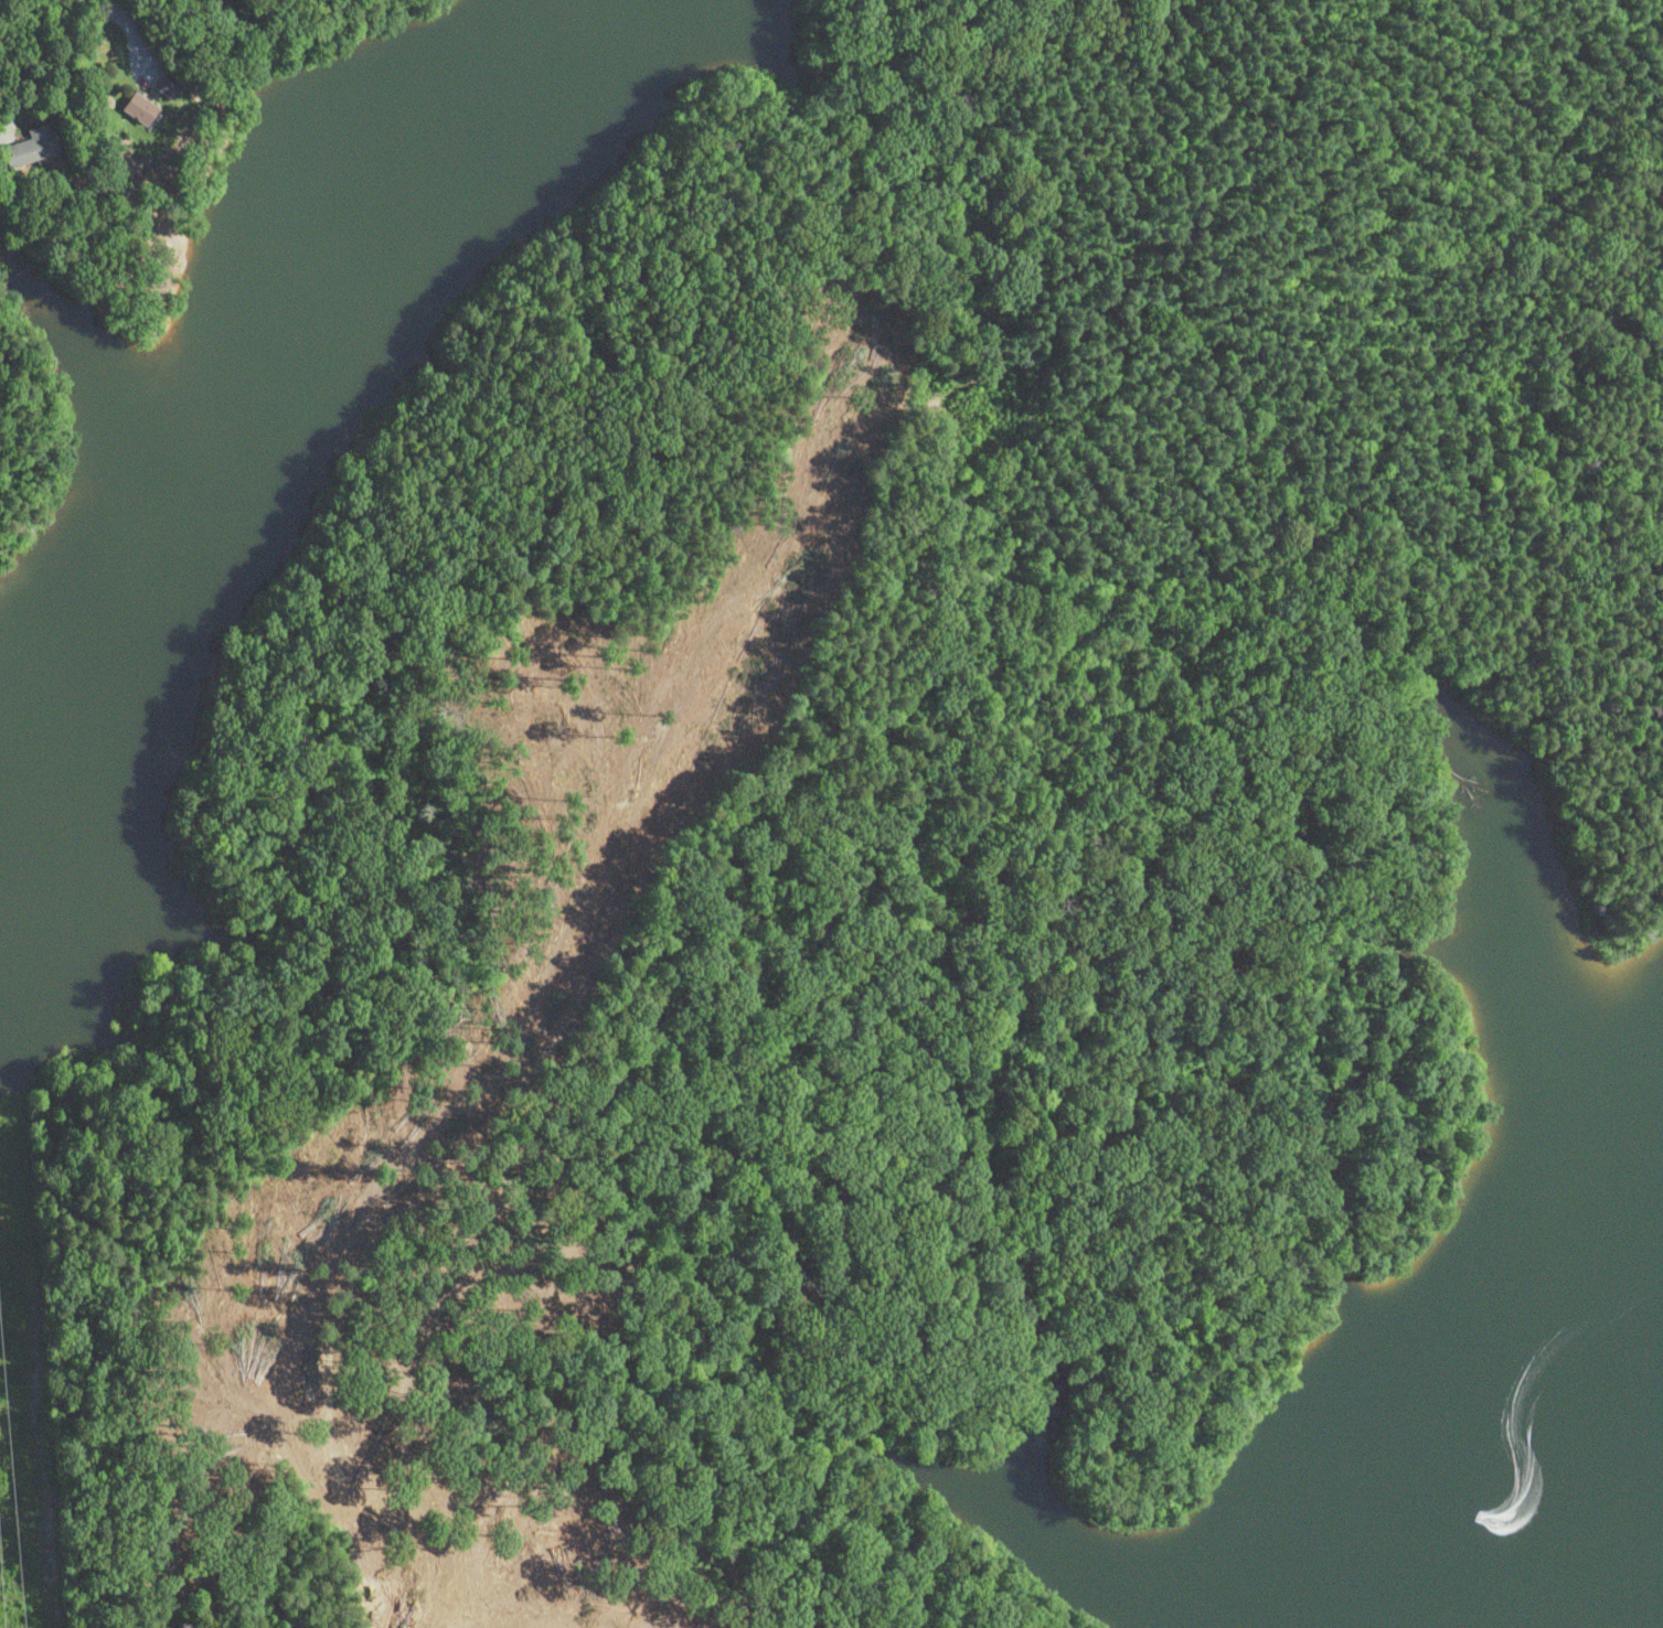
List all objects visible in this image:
building: (173, 88)
building: (145, 110)
building: (35, 147)

